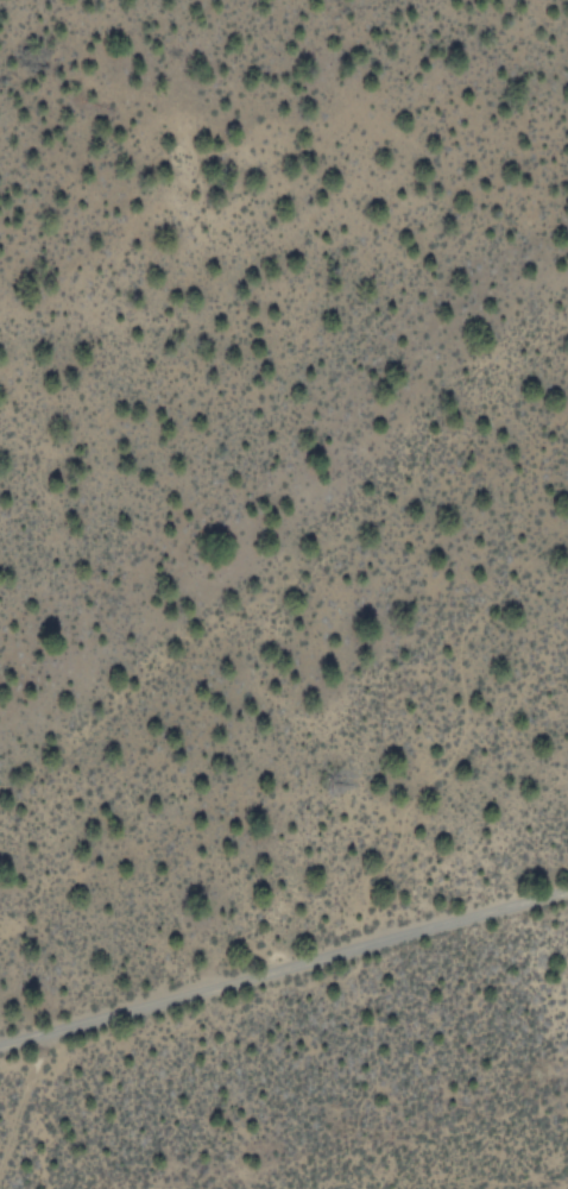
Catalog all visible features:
road: (284, 968)
airport runway: (2, 1164)
airport runway: (481, 1169)

